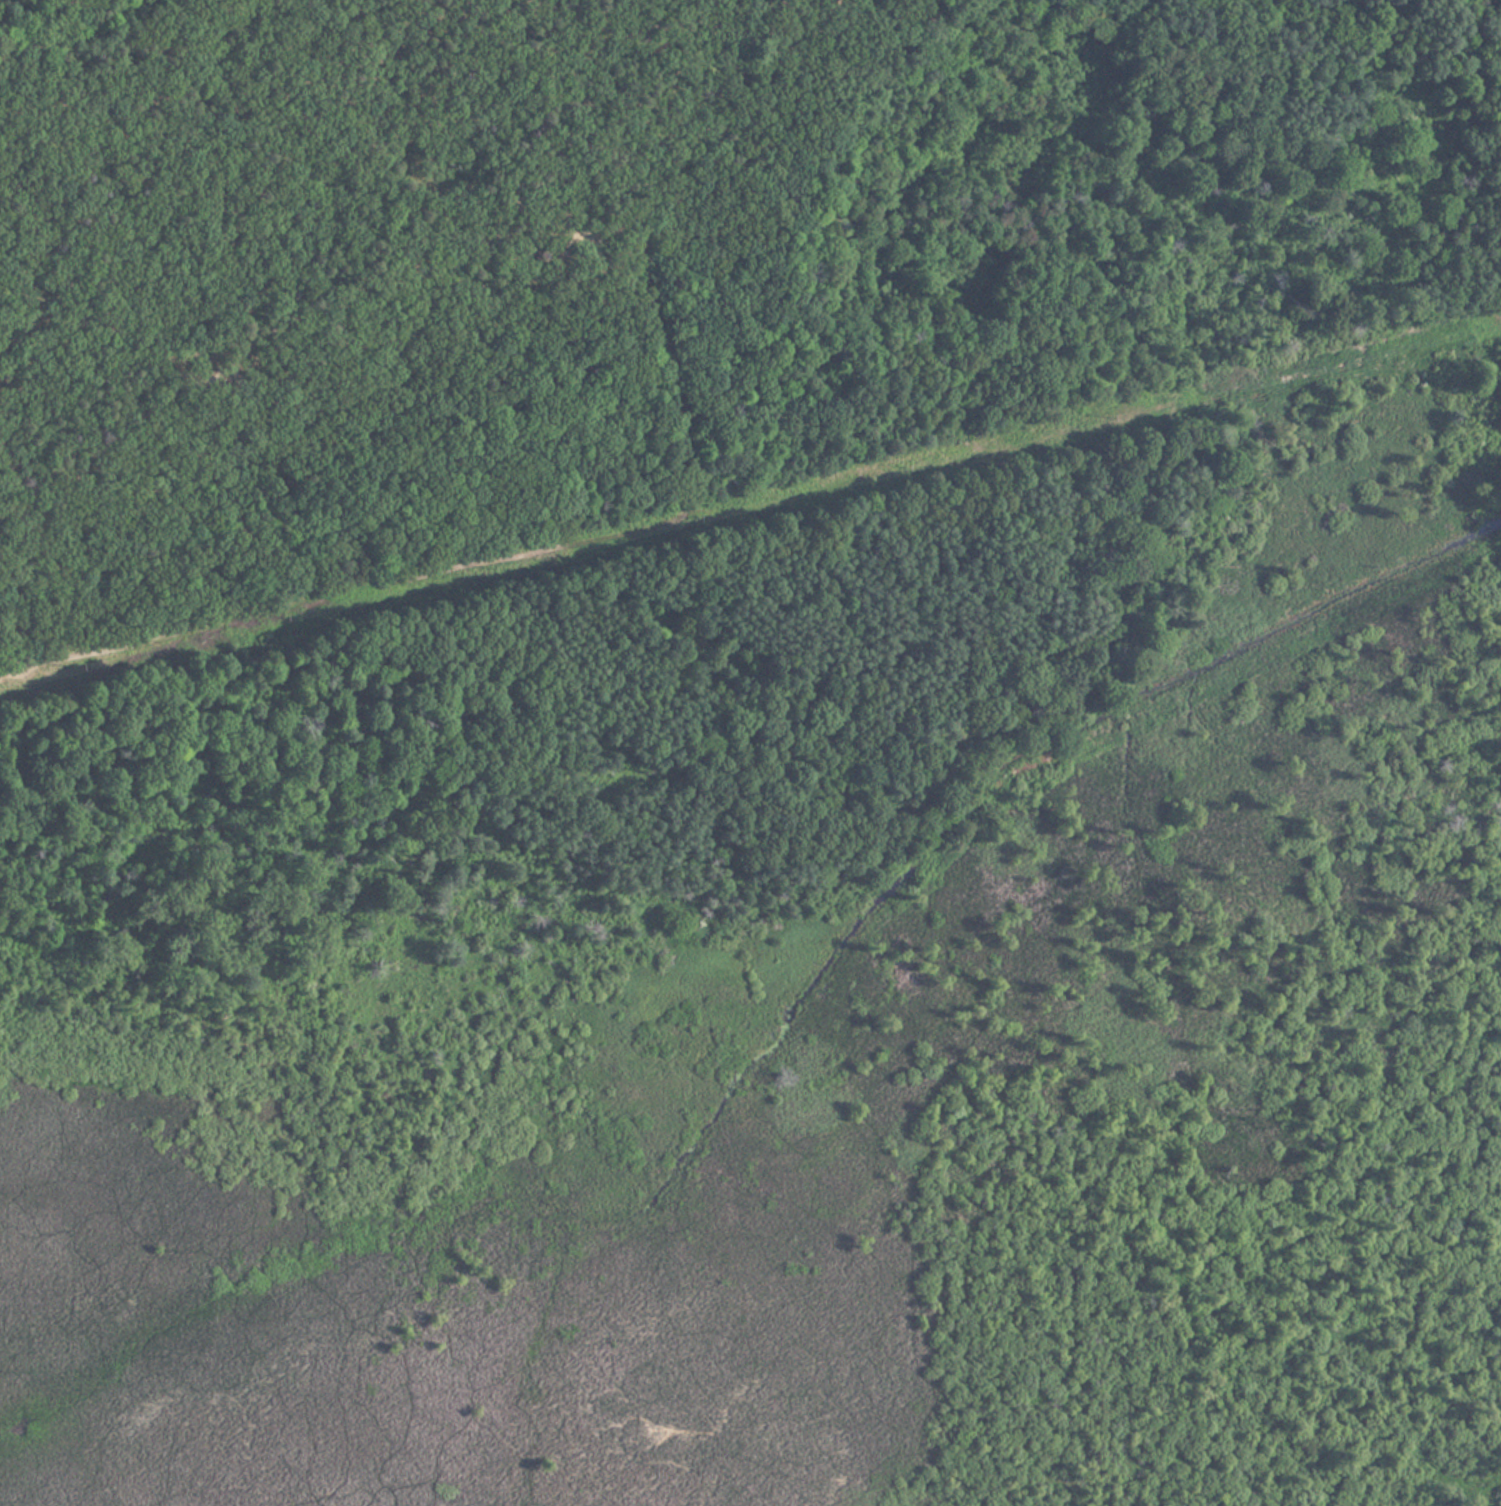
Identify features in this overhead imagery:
road: (24, 31)

